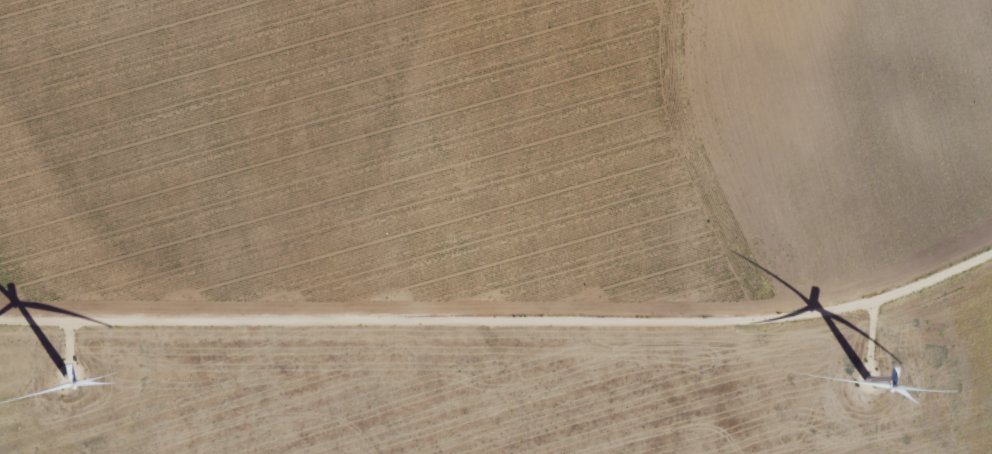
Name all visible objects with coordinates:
wind turbine: (66, 380)
wind turbine: (869, 381)

